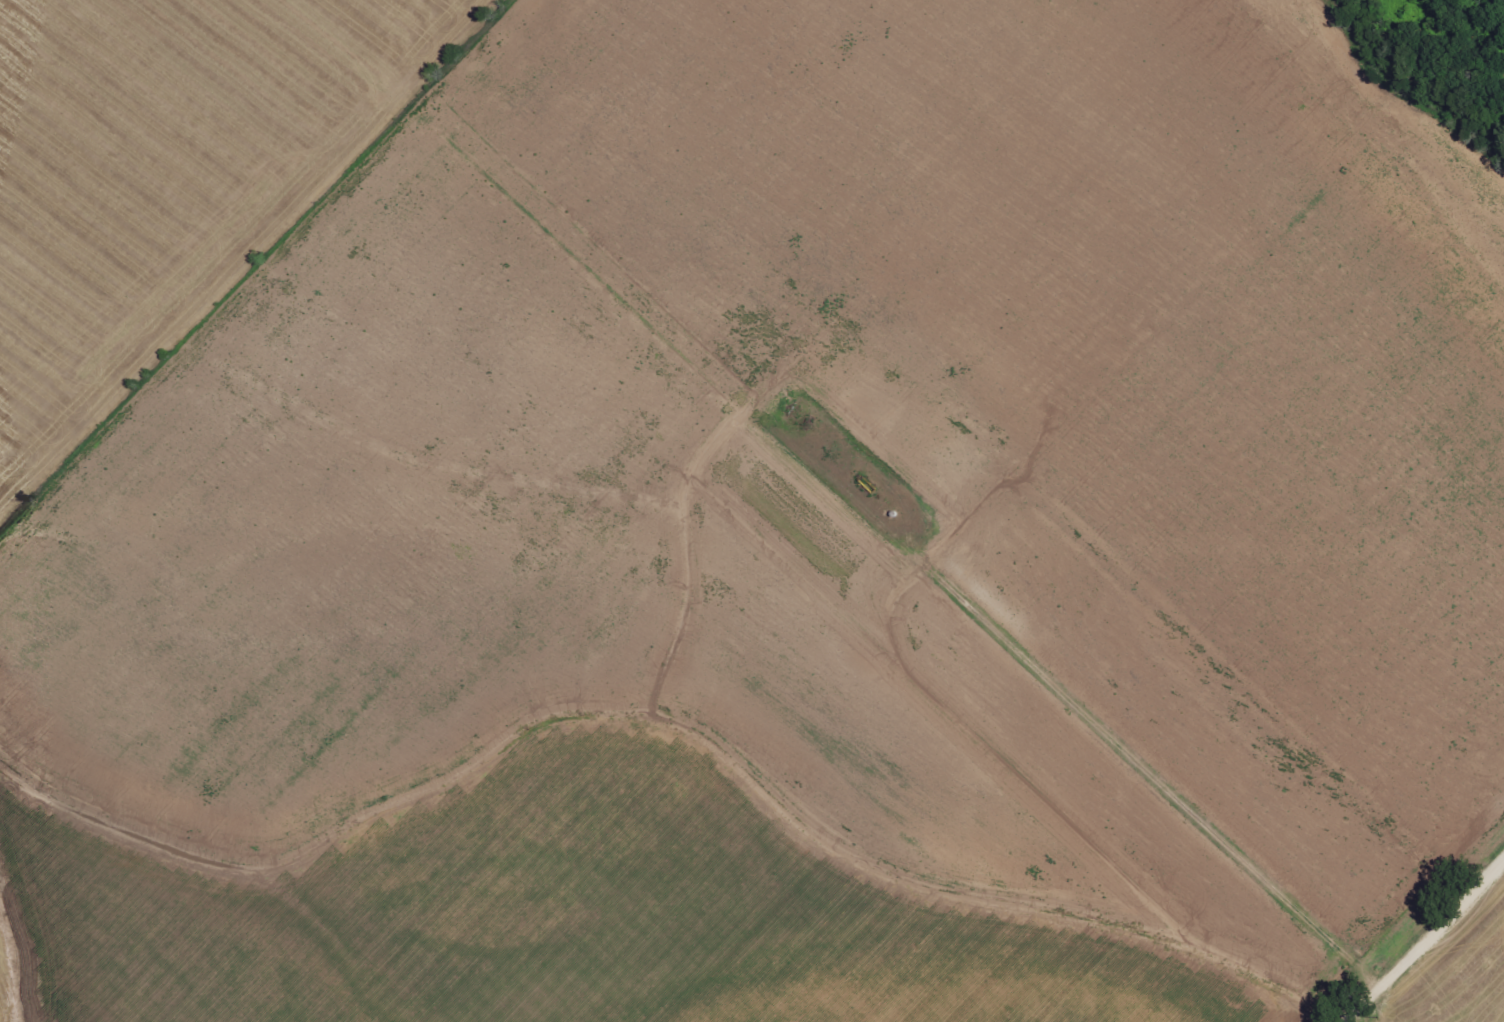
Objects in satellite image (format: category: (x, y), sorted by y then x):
road: (1424, 946)

